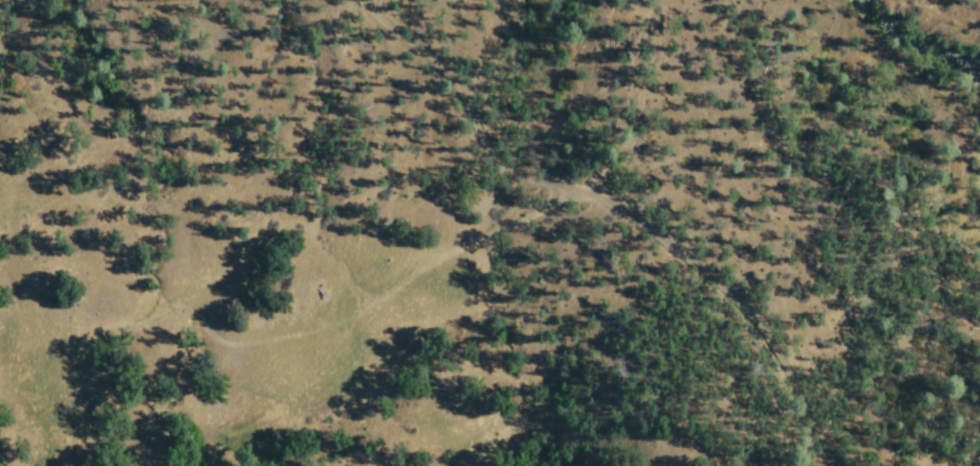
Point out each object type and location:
road: (612, 206)

